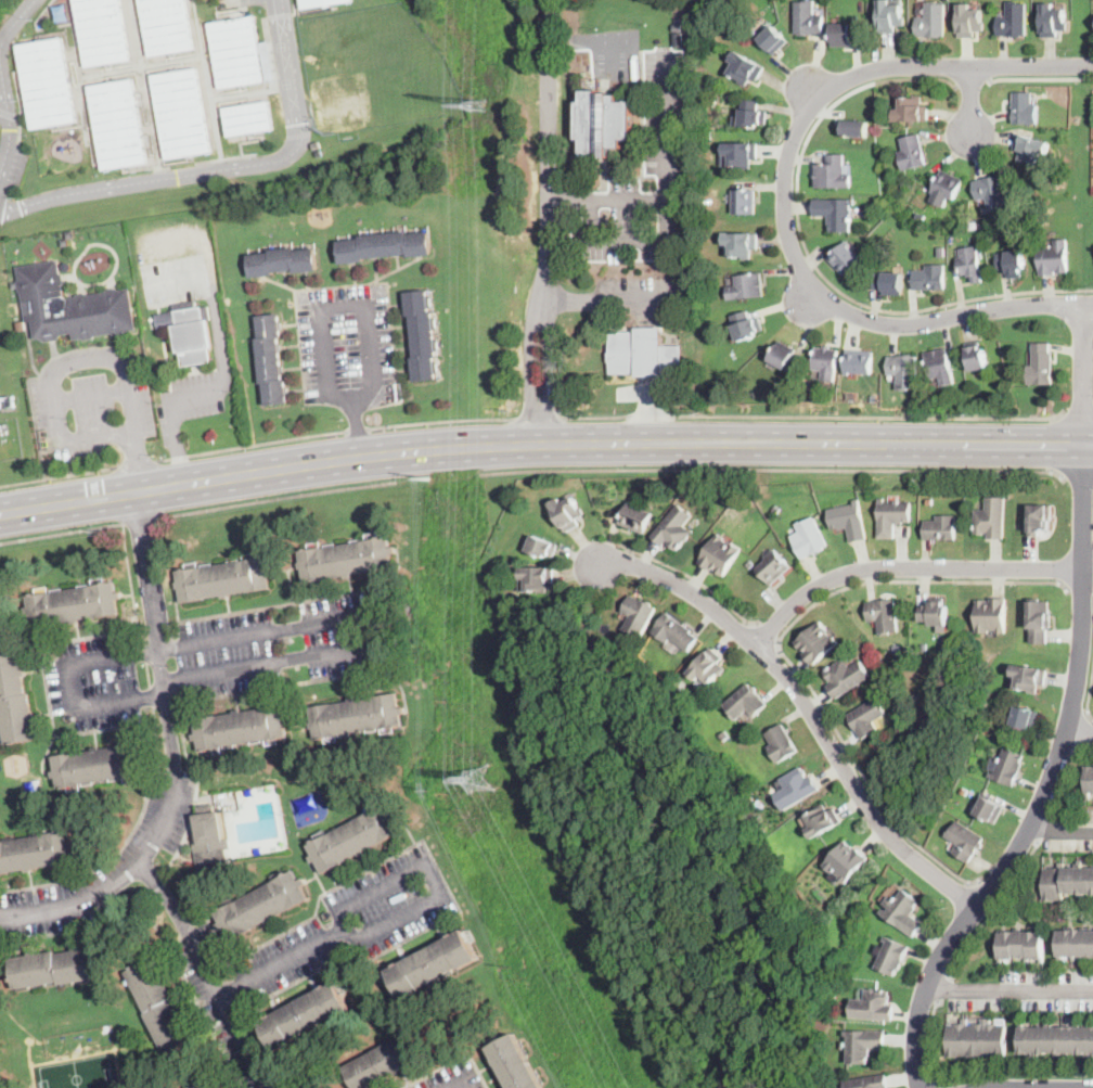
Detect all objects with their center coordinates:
road: (233, 0)
road: (250, 0)
building: (319, 2)
road: (218, 10)
road: (280, 16)
building: (889, 16)
building: (807, 18)
building: (969, 21)
building: (1013, 21)
building: (1053, 21)
building: (931, 22)
building: (168, 25)
building: (677, 27)
building: (103, 31)
building: (846, 34)
building: (678, 38)
building: (773, 39)
road: (67, 42)
building: (237, 52)
road: (185, 53)
road: (270, 54)
building: (269, 59)
road: (137, 63)
road: (119, 66)
road: (141, 67)
park: (374, 67)
road: (72, 68)
building: (745, 68)
road: (213, 69)
road: (131, 72)
road: (1039, 76)
road: (207, 78)
road: (2, 80)
road: (970, 81)
building: (48, 82)
road: (143, 85)
road: (2, 89)
road: (232, 91)
road: (17, 92)
road: (812, 92)
road: (243, 93)
road: (970, 100)
road: (224, 102)
power tower: (477, 104)
road: (144, 110)
building: (1024, 110)
building: (912, 111)
building: (182, 113)
road: (9, 114)
building: (751, 114)
building: (248, 117)
parking lot: (0, 120)
building: (603, 123)
building: (119, 124)
road: (91, 126)
road: (67, 127)
road: (85, 128)
building: (852, 128)
road: (298, 136)
building: (707, 136)
road: (257, 141)
road: (150, 146)
building: (1030, 148)
road: (549, 149)
building: (317, 153)
building: (912, 153)
building: (738, 154)
road: (223, 157)
road: (171, 162)
parking lot: (664, 165)
parking lot: (17, 167)
road: (223, 167)
road: (139, 168)
building: (832, 174)
building: (944, 188)
road: (785, 192)
building: (991, 192)
road: (571, 200)
building: (744, 202)
building: (835, 214)
building: (70, 235)
road: (665, 241)
building: (64, 243)
building: (741, 244)
building: (384, 246)
building: (941, 249)
road: (810, 258)
building: (845, 258)
building: (1053, 258)
building: (282, 261)
building: (970, 264)
building: (1012, 264)
building: (930, 278)
building: (889, 282)
building: (746, 286)
parking lot: (641, 295)
road: (610, 299)
road: (809, 299)
road: (1089, 304)
building: (70, 306)
building: (14, 310)
building: (667, 319)
building: (746, 325)
building: (192, 334)
building: (423, 335)
road: (221, 340)
parking lot: (347, 347)
building: (642, 353)
building: (782, 355)
building: (270, 358)
building: (977, 358)
building: (826, 361)
building: (859, 361)
building: (1041, 364)
building: (940, 366)
road: (530, 369)
building: (904, 370)
road: (549, 371)
road: (1084, 374)
road: (55, 375)
building: (776, 384)
road: (370, 389)
road: (91, 396)
building: (10, 402)
building: (0, 405)
road: (814, 414)
road: (1077, 414)
road: (536, 417)
road: (438, 421)
road: (353, 427)
road: (357, 427)
road: (252, 444)
road: (1010, 444)
road: (1089, 445)
road: (464, 447)
road: (136, 461)
road: (181, 461)
road: (136, 462)
road: (774, 470)
road: (57, 475)
road: (1077, 477)
power tower: (427, 478)
road: (278, 499)
building: (928, 500)
building: (775, 510)
building: (566, 513)
building: (891, 517)
road: (141, 519)
building: (635, 519)
building: (991, 519)
building: (1039, 519)
building: (849, 520)
building: (941, 527)
building: (674, 528)
road: (61, 532)
power tower: (101, 532)
building: (809, 537)
building: (542, 547)
building: (720, 555)
building: (347, 559)
building: (749, 564)
building: (774, 567)
road: (910, 567)
road: (129, 577)
building: (536, 578)
building: (223, 579)
road: (695, 579)
road: (1079, 591)
building: (73, 604)
building: (525, 606)
building: (491, 611)
building: (935, 613)
building: (883, 615)
building: (638, 616)
building: (991, 616)
building: (1039, 622)
building: (674, 631)
road: (768, 633)
building: (816, 642)
parking lot: (283, 645)
building: (939, 645)
road: (168, 647)
building: (924, 647)
building: (896, 649)
road: (777, 650)
road: (271, 662)
building: (708, 667)
building: (846, 677)
building: (1029, 677)
parking lot: (95, 683)
building: (1001, 696)
building: (916, 697)
road: (1090, 697)
building: (15, 700)
building: (746, 702)
road: (807, 707)
building: (356, 716)
building: (867, 717)
building: (1024, 718)
building: (241, 727)
road: (1080, 732)
road: (1085, 732)
building: (725, 734)
building: (781, 743)
road: (173, 757)
building: (100, 765)
building: (1008, 767)
road: (1067, 776)
power tower: (480, 780)
building: (1089, 781)
road: (1051, 783)
building: (796, 789)
building: (965, 790)
power tower: (425, 791)
building: (758, 803)
building: (990, 809)
building: (822, 820)
road: (1045, 830)
road: (1060, 831)
building: (209, 839)
building: (355, 839)
building: (965, 841)
building: (36, 852)
building: (846, 861)
parking lot: (102, 868)
building: (1067, 882)
road: (989, 891)
road: (378, 893)
building: (121, 905)
building: (261, 906)
building: (903, 913)
road: (991, 913)
parking lot: (353, 922)
building: (1075, 944)
building: (1021, 946)
building: (892, 956)
building: (433, 963)
building: (57, 968)
road: (204, 976)
power tower: (519, 976)
road: (942, 988)
road: (1010, 990)
parking lot: (218, 1003)
building: (159, 1004)
building: (873, 1007)
building: (306, 1015)
building: (1056, 1037)
building: (977, 1039)
building: (862, 1045)
building: (381, 1063)
building: (514, 1064)
parking lot: (452, 1076)
road: (973, 1078)
building: (209, 1083)
building: (869, 1083)
road: (468, 1085)
road: (937, 1086)
road: (1044, 1087)

